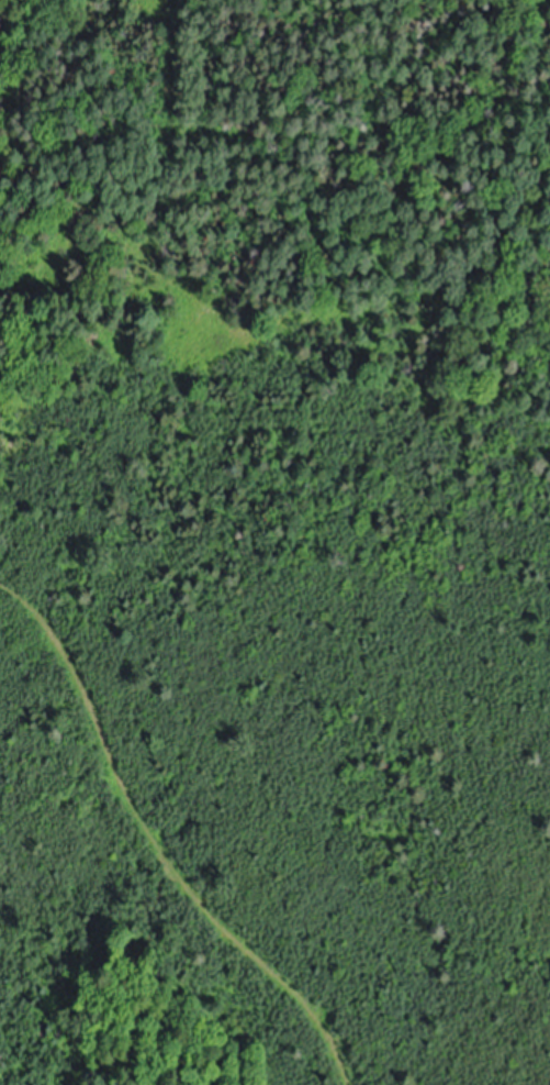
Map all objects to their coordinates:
road: (142, 846)

